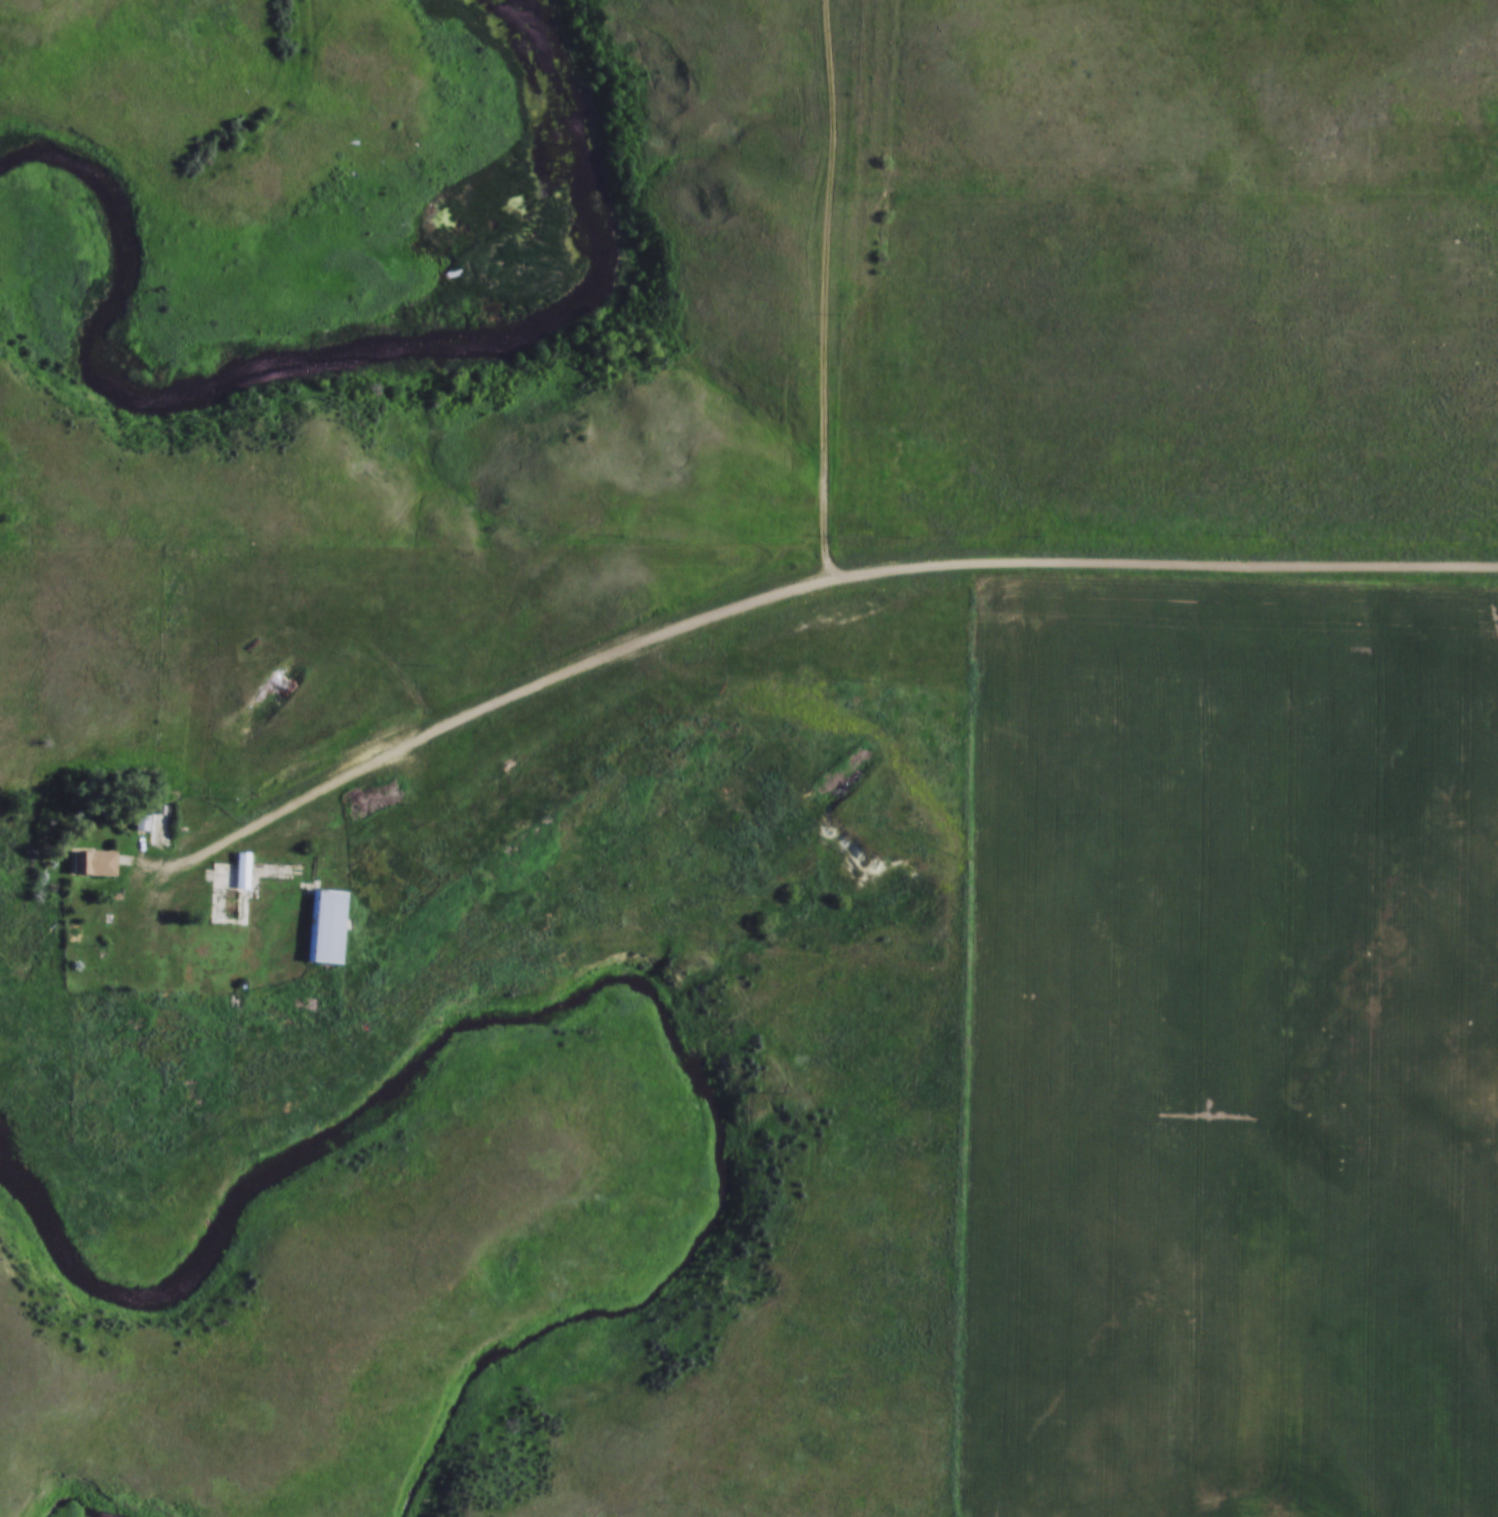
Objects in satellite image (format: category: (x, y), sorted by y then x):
park: (418, 270)
road: (825, 289)
road: (784, 590)
building: (142, 821)
building: (164, 822)
building: (94, 860)
building: (230, 890)
building: (329, 925)

